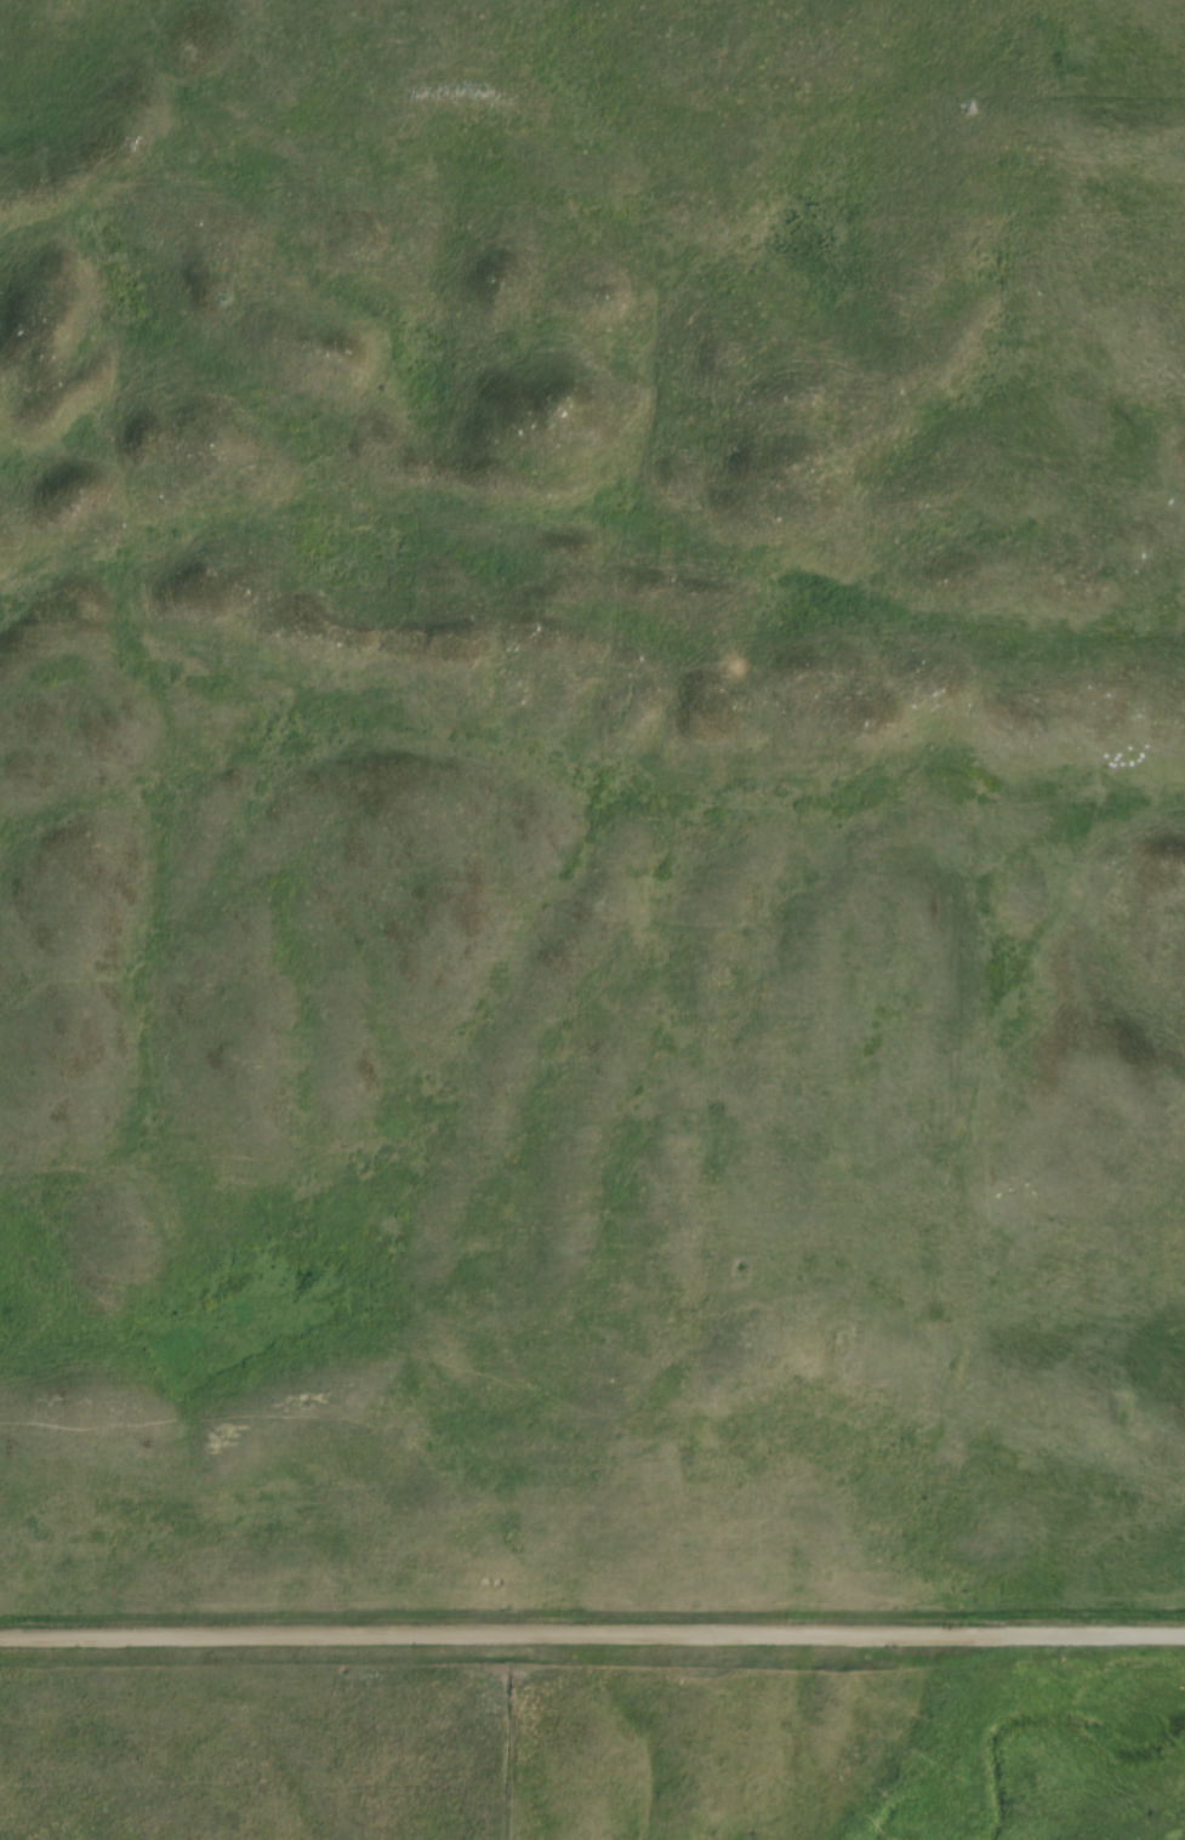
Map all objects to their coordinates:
road: (592, 1640)

